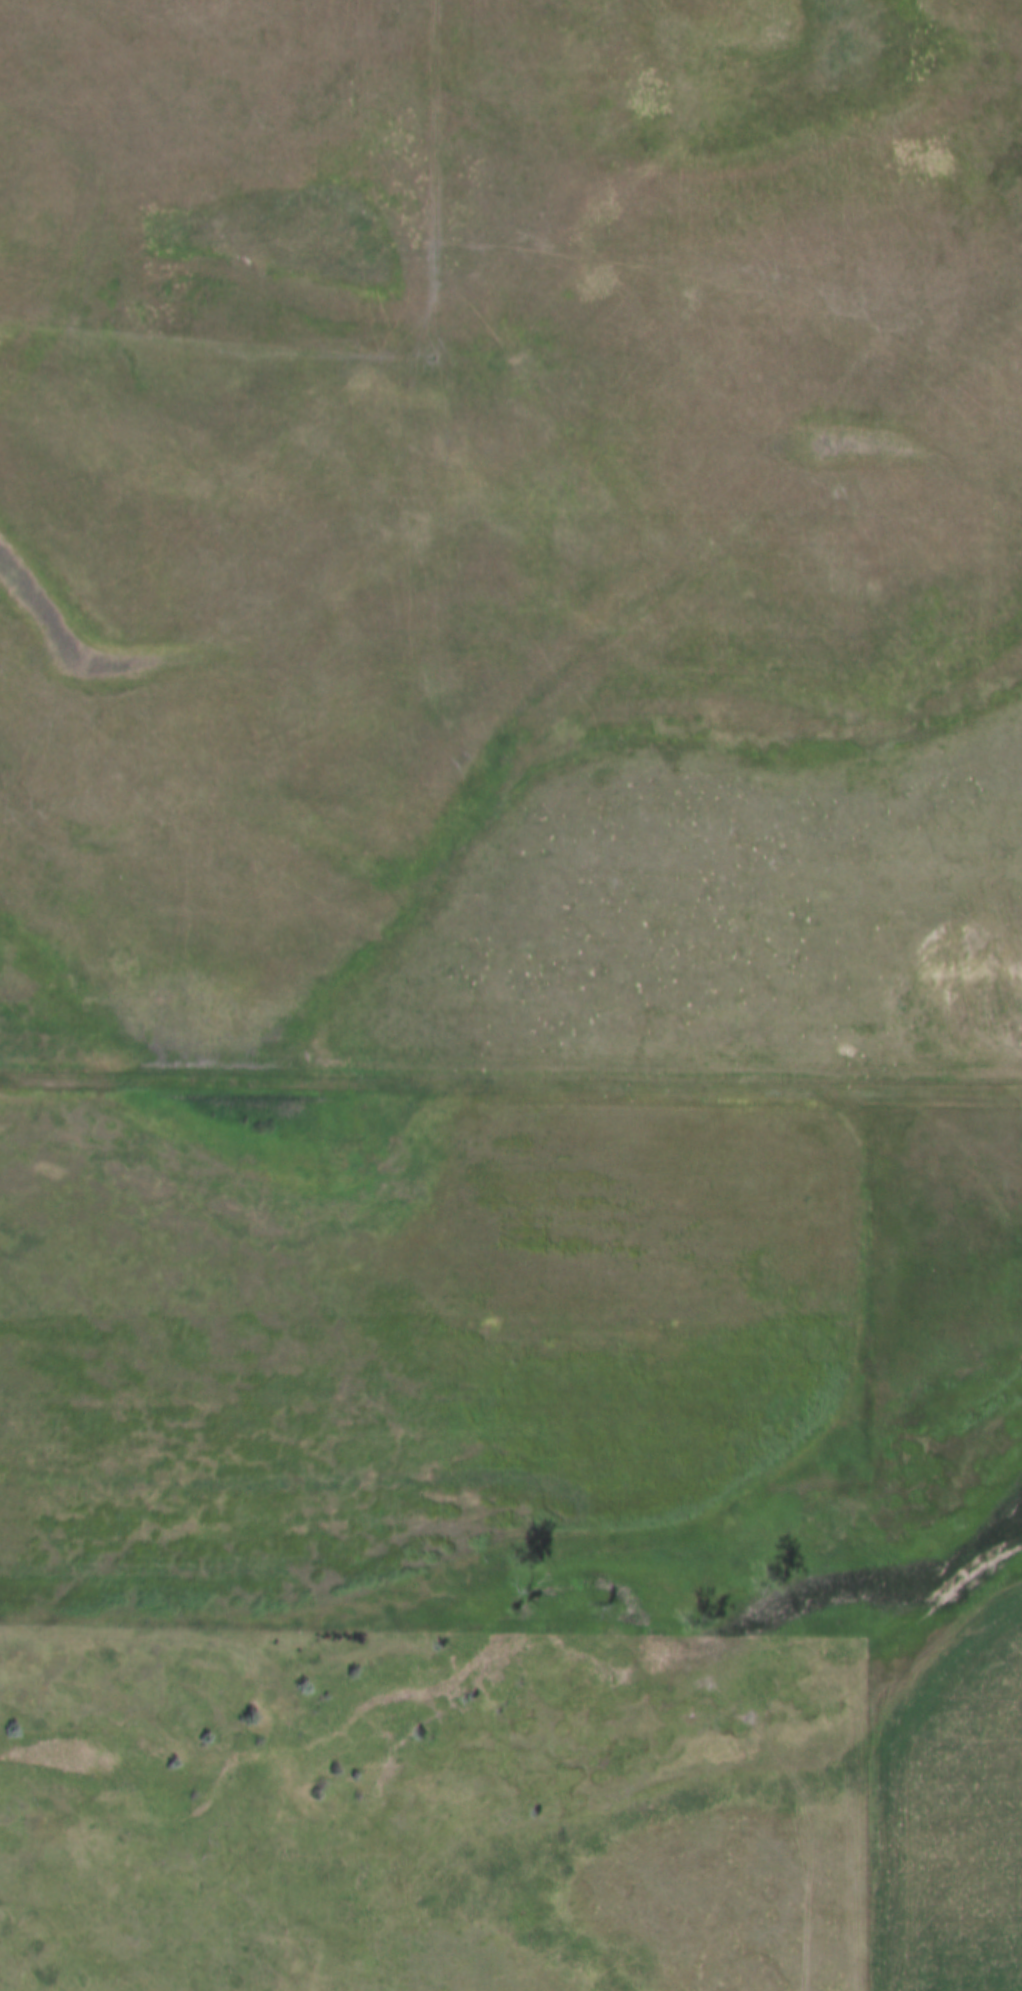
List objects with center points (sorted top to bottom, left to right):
road: (511, 1084)

